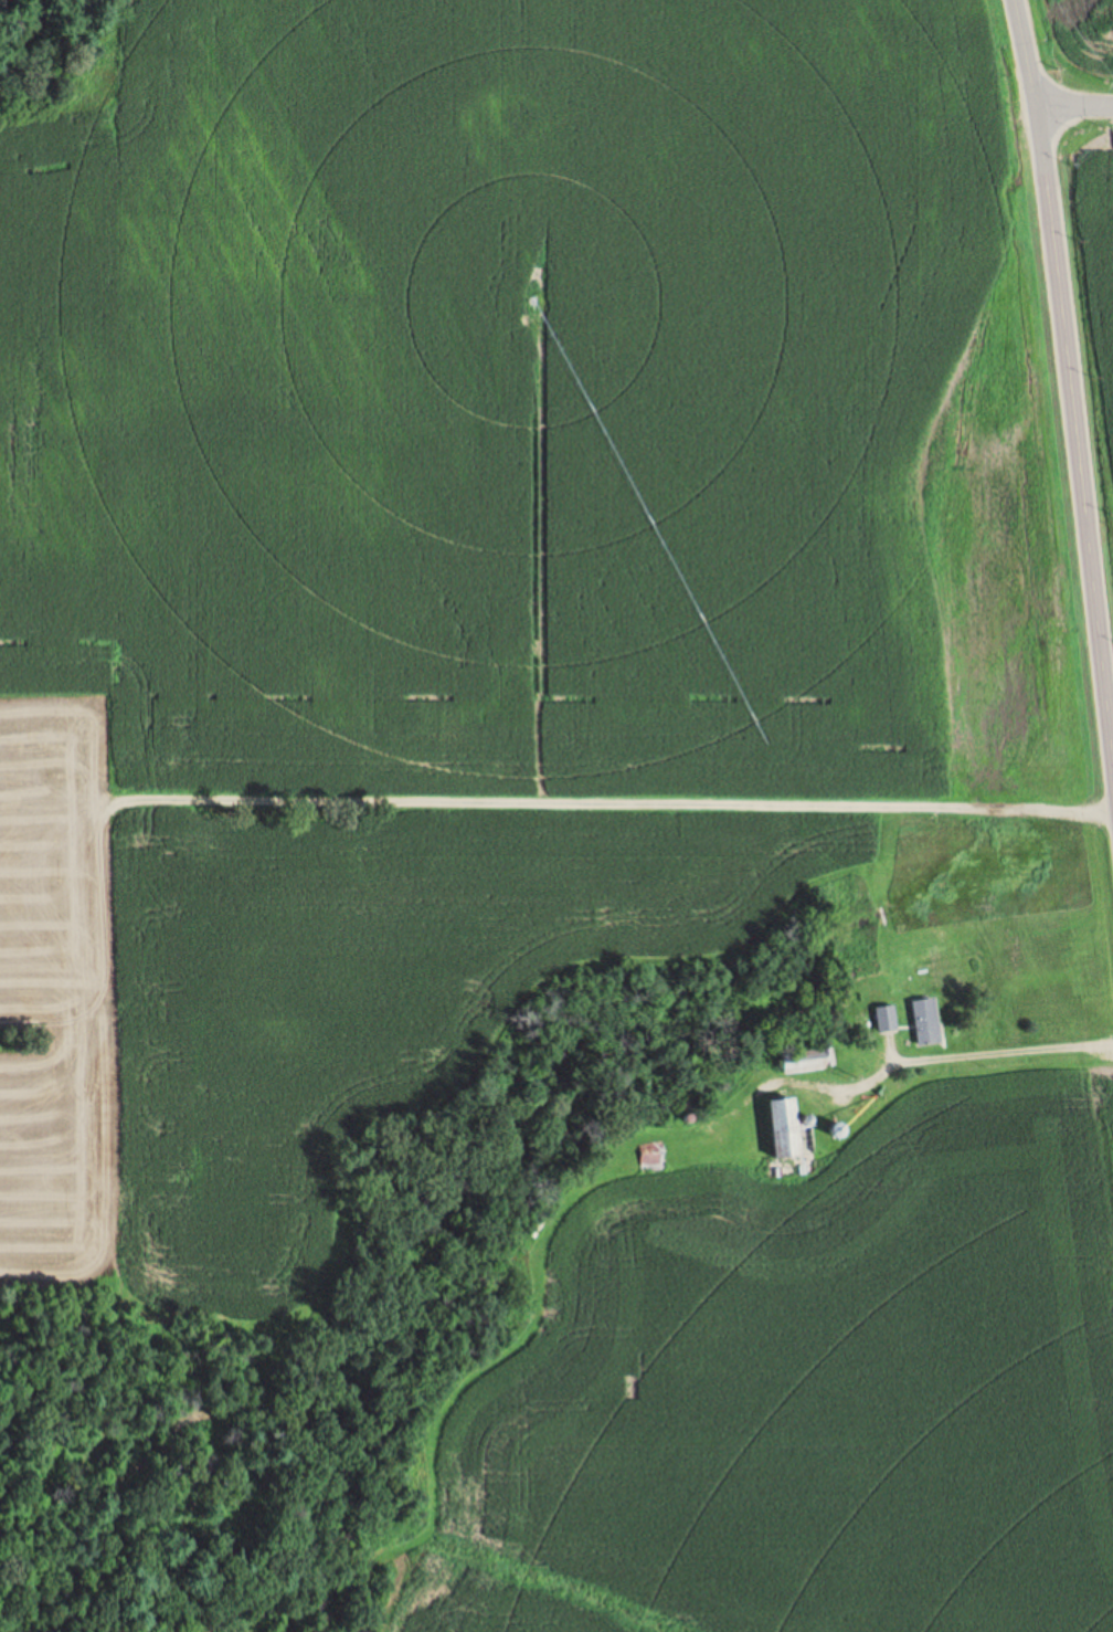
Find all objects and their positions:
road: (1026, 50)
road: (1073, 97)
road: (1074, 441)
building: (884, 1018)
building: (924, 1021)
road: (941, 1055)
building: (785, 1128)
building: (647, 1161)

